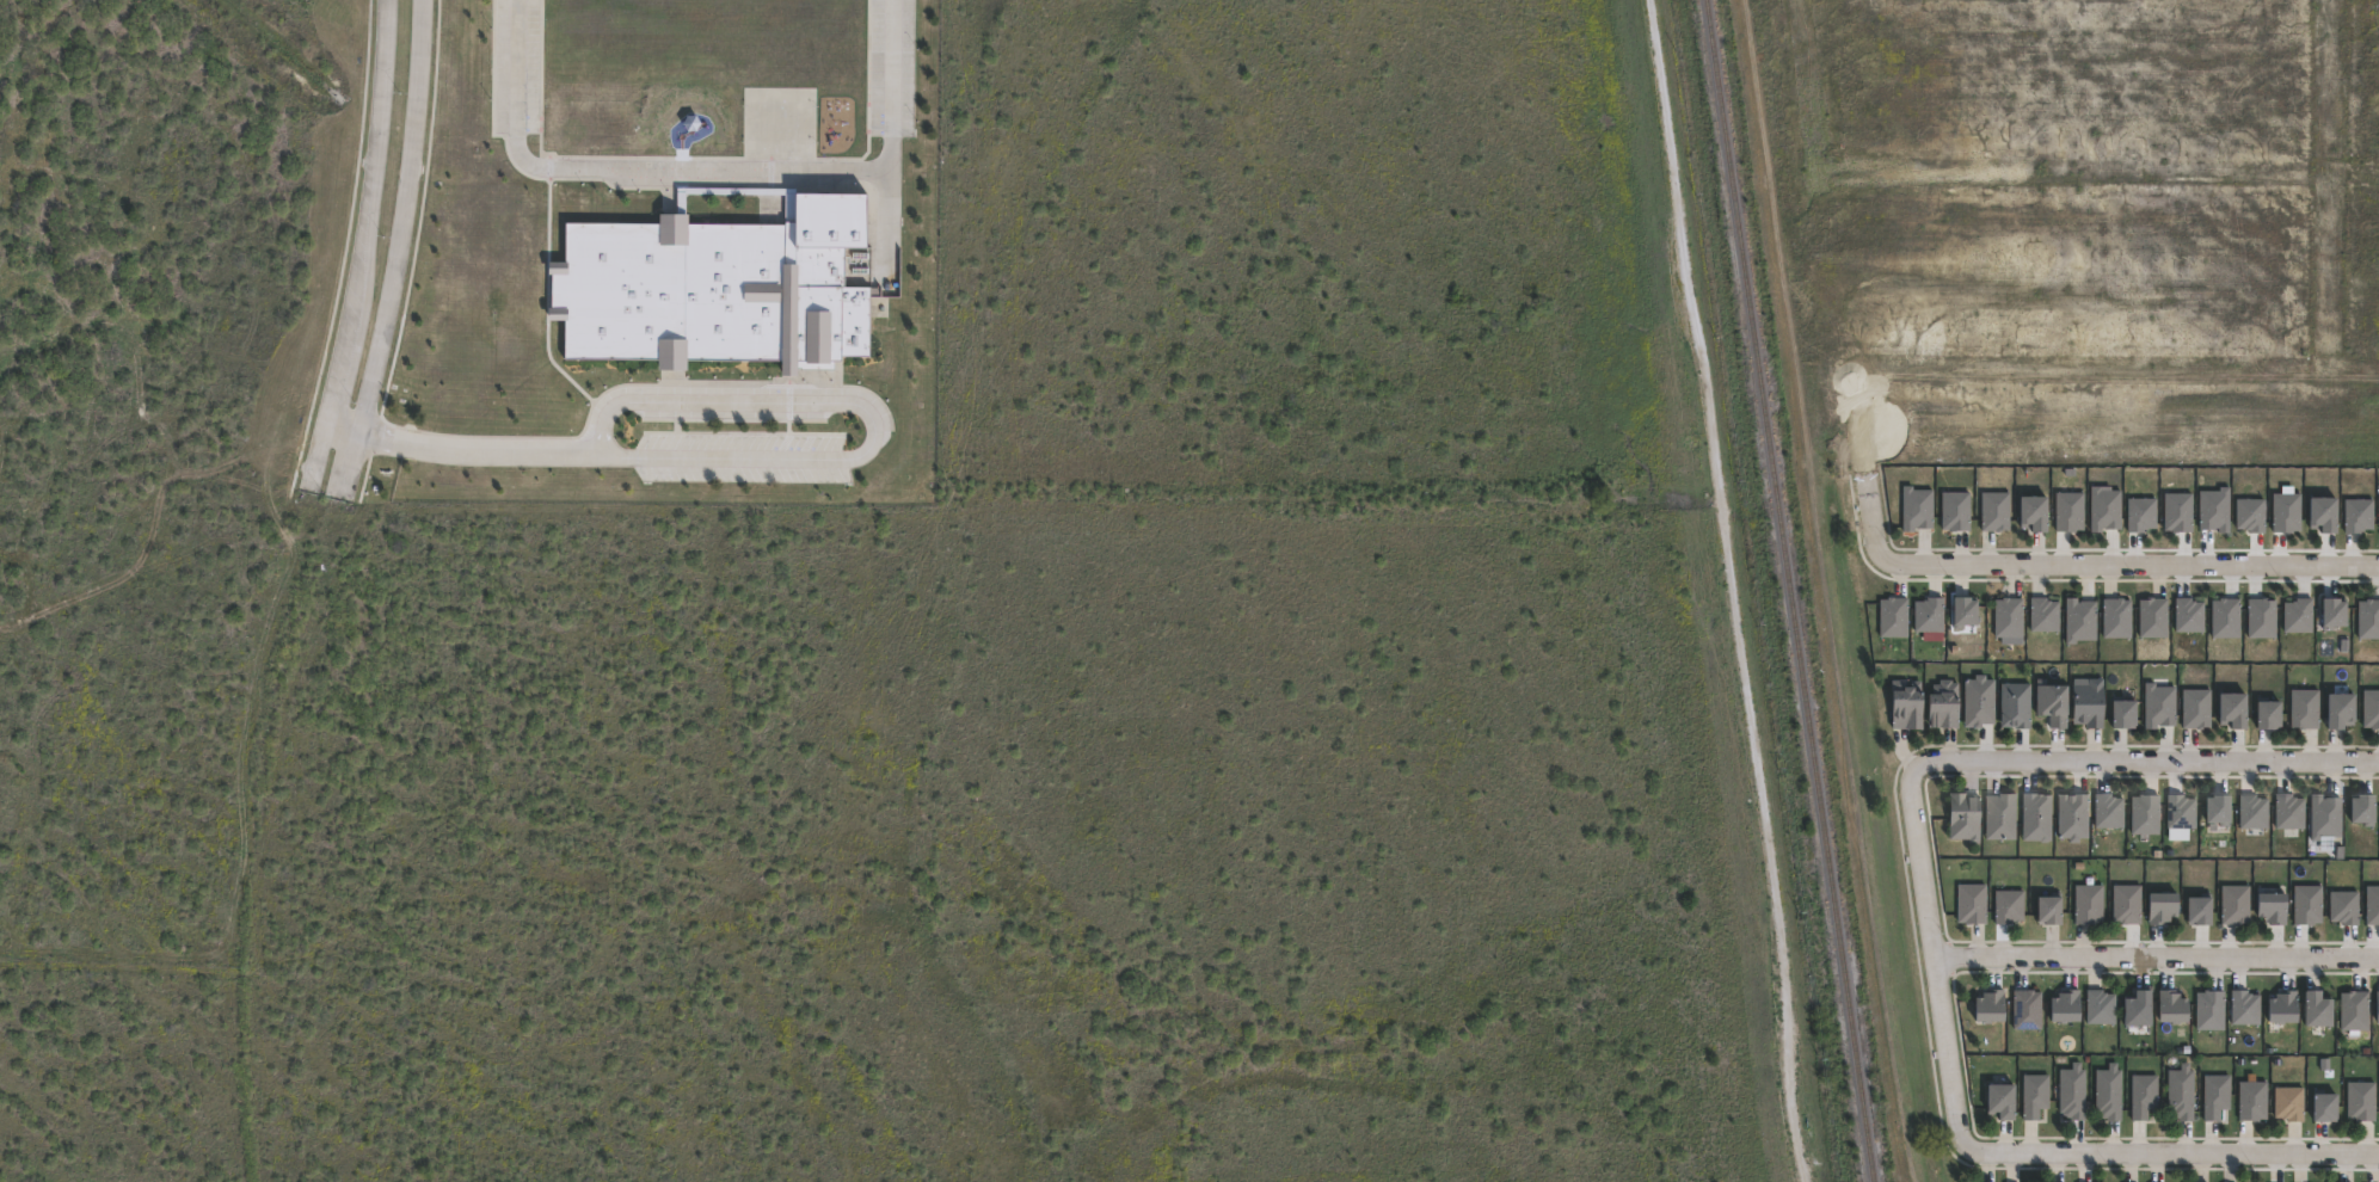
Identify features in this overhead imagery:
road: (712, 170)
road: (367, 210)
road: (404, 214)
building: (718, 287)
road: (871, 415)
road: (448, 450)
road: (316, 453)
road: (352, 461)
building: (1916, 506)
building: (2104, 507)
building: (2214, 507)
building: (1955, 510)
building: (1994, 510)
building: (2033, 510)
building: (2068, 510)
building: (2177, 510)
building: (2286, 511)
building: (2323, 511)
building: (2141, 513)
building: (2250, 513)
building: (2358, 513)
road: (2088, 565)
road: (1727, 590)
railway: (1794, 590)
building: (1963, 610)
building: (2332, 610)
building: (1929, 614)
building: (2188, 614)
building: (2043, 615)
building: (2298, 615)
building: (1892, 616)
building: (2152, 616)
building: (2008, 617)
building: (2116, 617)
building: (2225, 617)
building: (2261, 617)
building: (2368, 618)
building: (2079, 620)
road: (256, 675)
building: (2053, 700)
building: (1978, 701)
building: (2089, 703)
building: (1944, 704)
building: (2015, 704)
building: (2158, 704)
building: (2195, 707)
building: (2371, 707)
building: (1907, 708)
building: (2233, 708)
building: (2304, 708)
building: (2340, 709)
building: (2122, 713)
building: (2268, 713)
road: (2141, 761)
building: (2362, 808)
building: (2217, 809)
building: (2108, 811)
building: (2180, 811)
building: (2252, 811)
building: (2289, 811)
building: (2144, 814)
building: (2000, 815)
building: (2072, 815)
building: (1965, 817)
building: (2036, 817)
building: (2324, 817)
building: (1972, 904)
building: (2088, 904)
building: (2127, 904)
building: (2307, 904)
building: (2236, 905)
building: (2372, 905)
building: (2008, 906)
building: (2344, 906)
building: (2163, 907)
building: (2273, 907)
building: (2049, 910)
building: (2200, 911)
road: (2154, 956)
road: (1932, 966)
building: (2066, 1005)
building: (1991, 1006)
building: (2101, 1006)
building: (2172, 1006)
building: (2245, 1006)
building: (2378, 1006)
building: (2283, 1008)
building: (2027, 1009)
building: (2139, 1009)
building: (2209, 1010)
building: (2318, 1010)
building: (2354, 1010)
building: (2072, 1092)
building: (2108, 1092)
building: (2181, 1094)
building: (2034, 1095)
building: (2144, 1095)
building: (2215, 1096)
building: (2252, 1100)
building: (2002, 1101)
building: (2361, 1101)
building: (2288, 1103)
building: (2325, 1107)
road: (2176, 1152)

